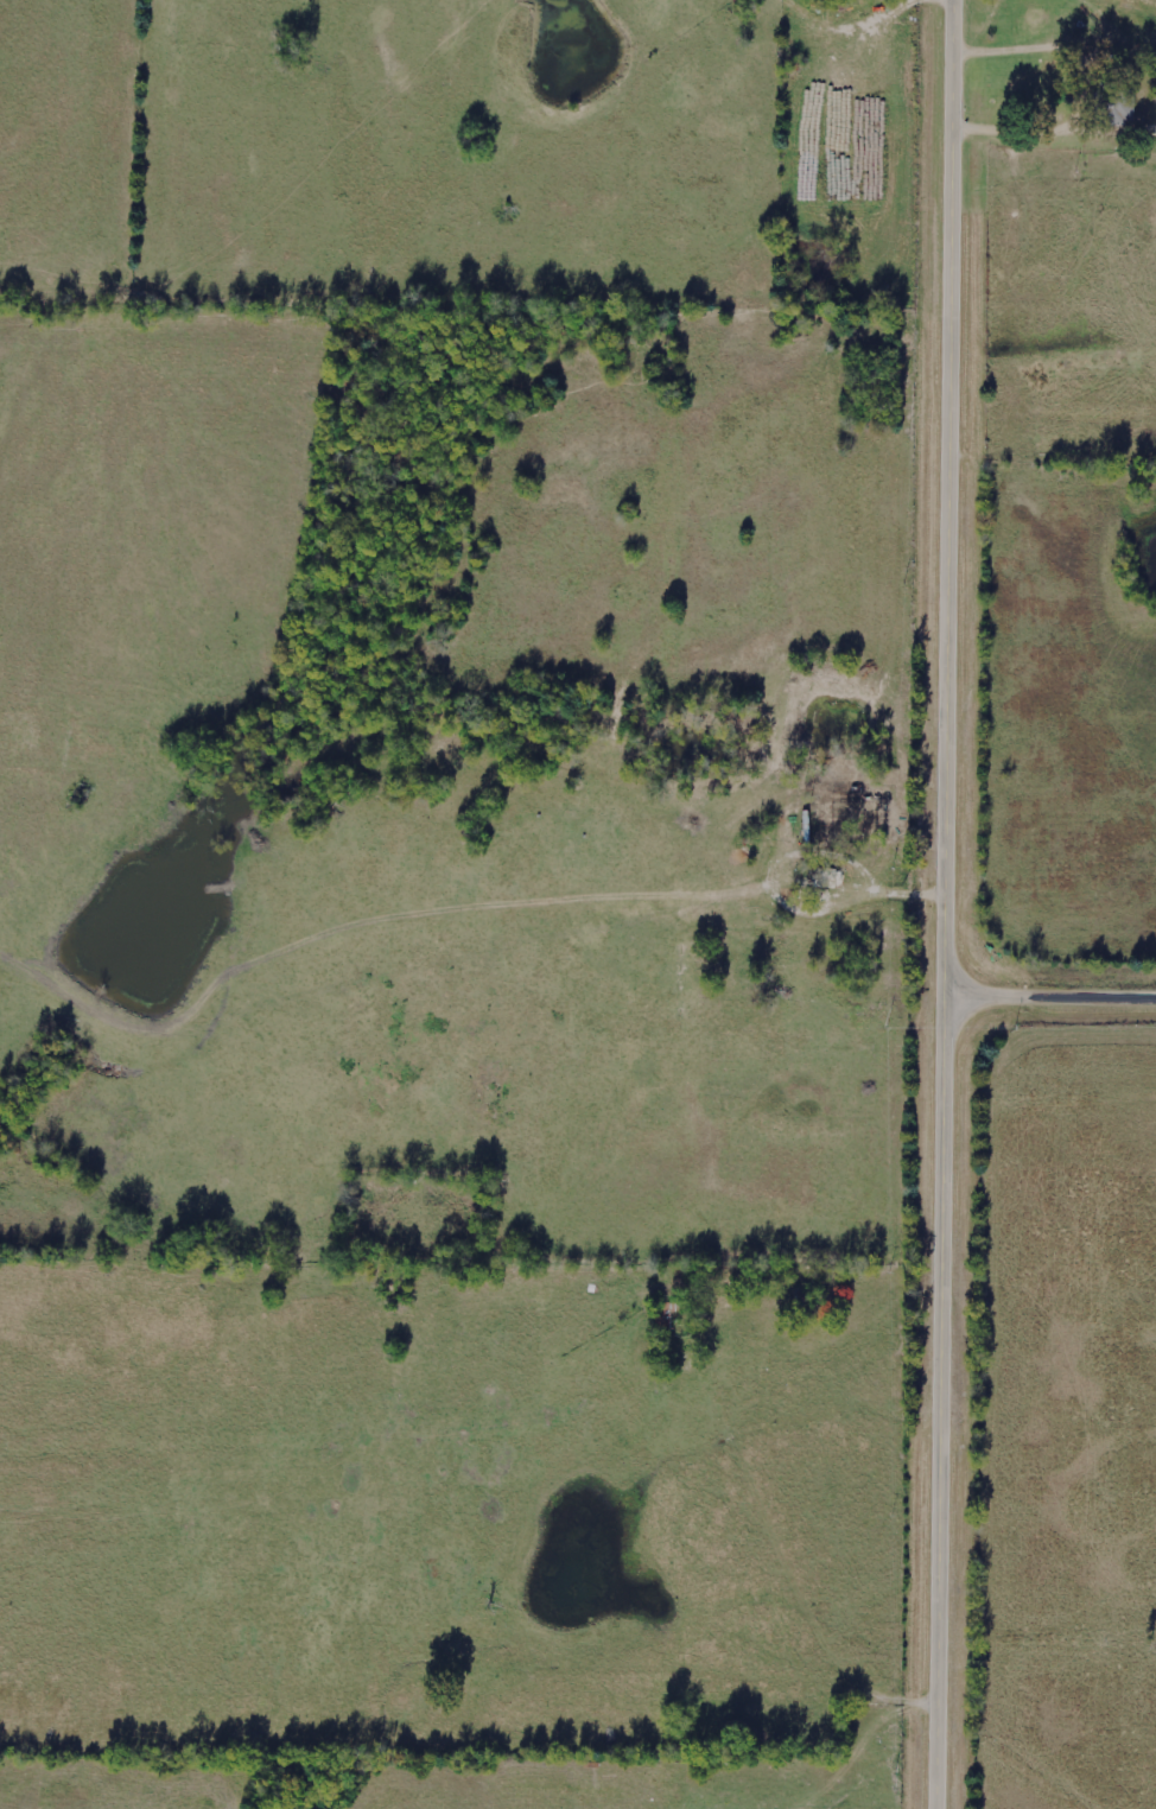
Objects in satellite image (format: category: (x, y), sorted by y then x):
road: (946, 904)
road: (1050, 998)

